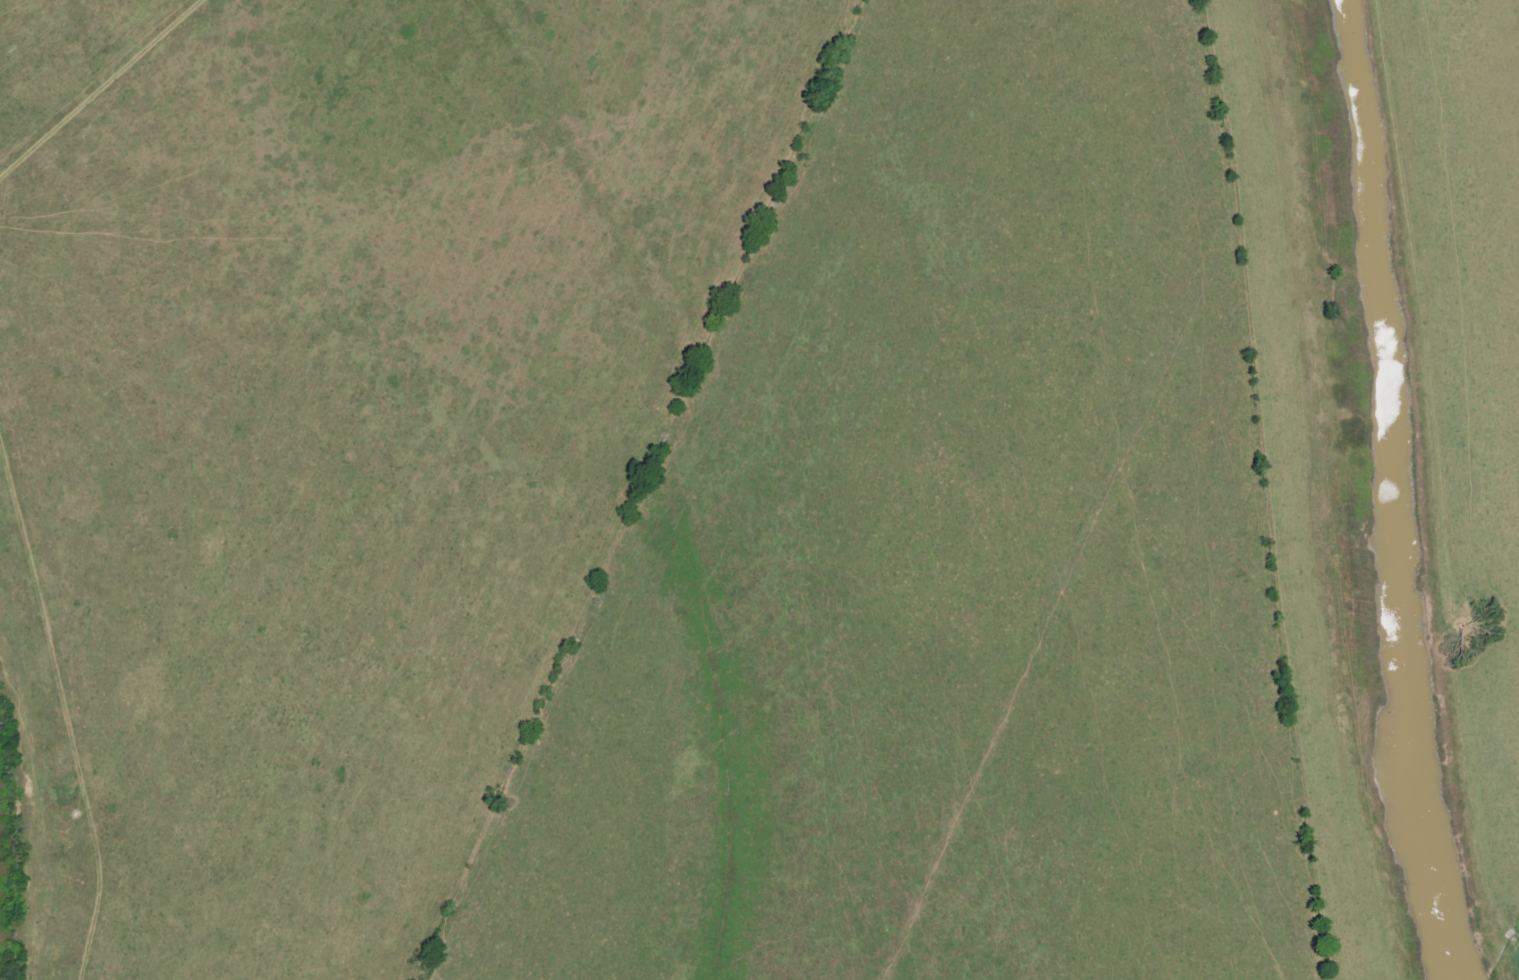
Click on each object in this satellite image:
road: (96, 76)
road: (57, 687)

